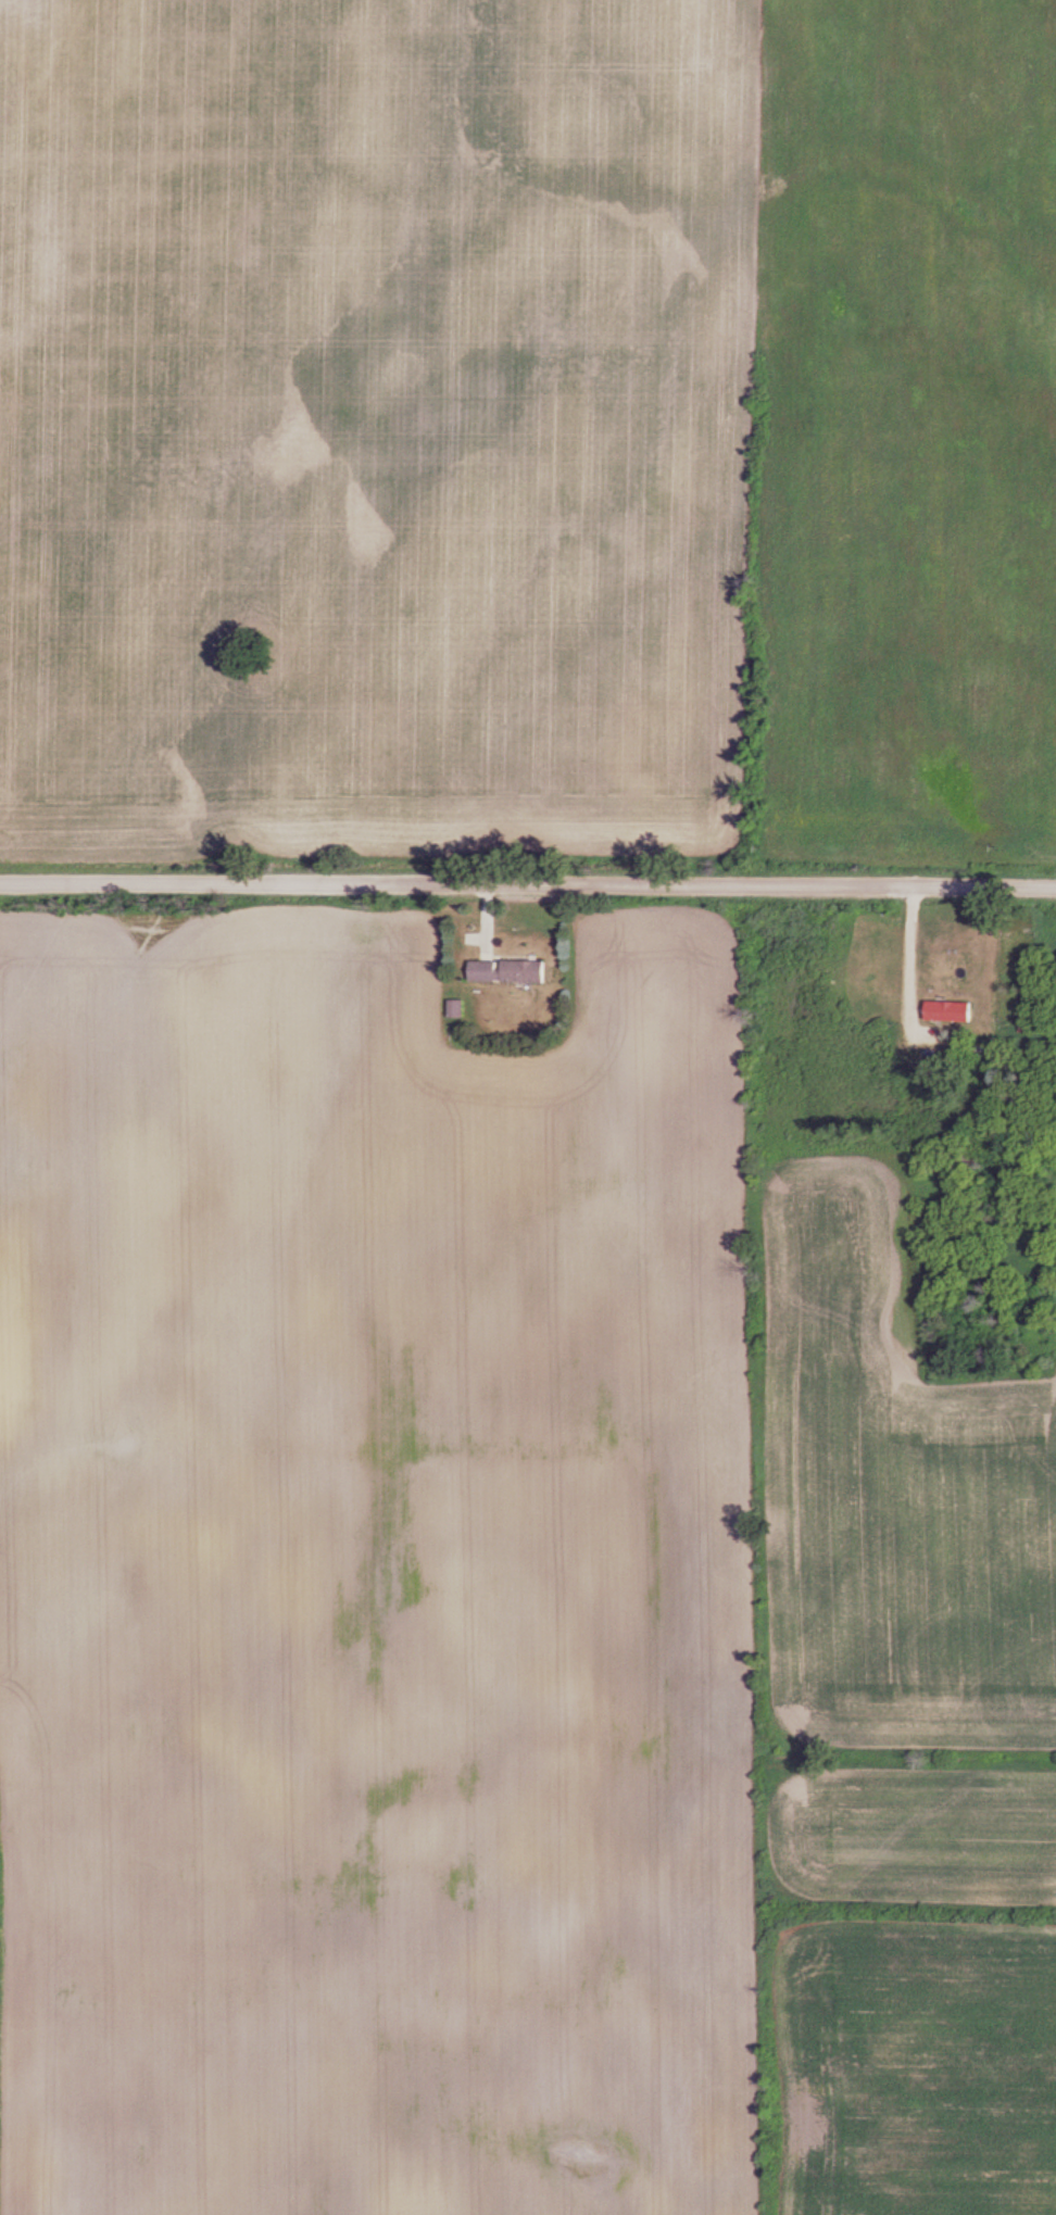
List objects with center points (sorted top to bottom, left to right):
road: (528, 880)
building: (511, 970)
building: (952, 1010)

